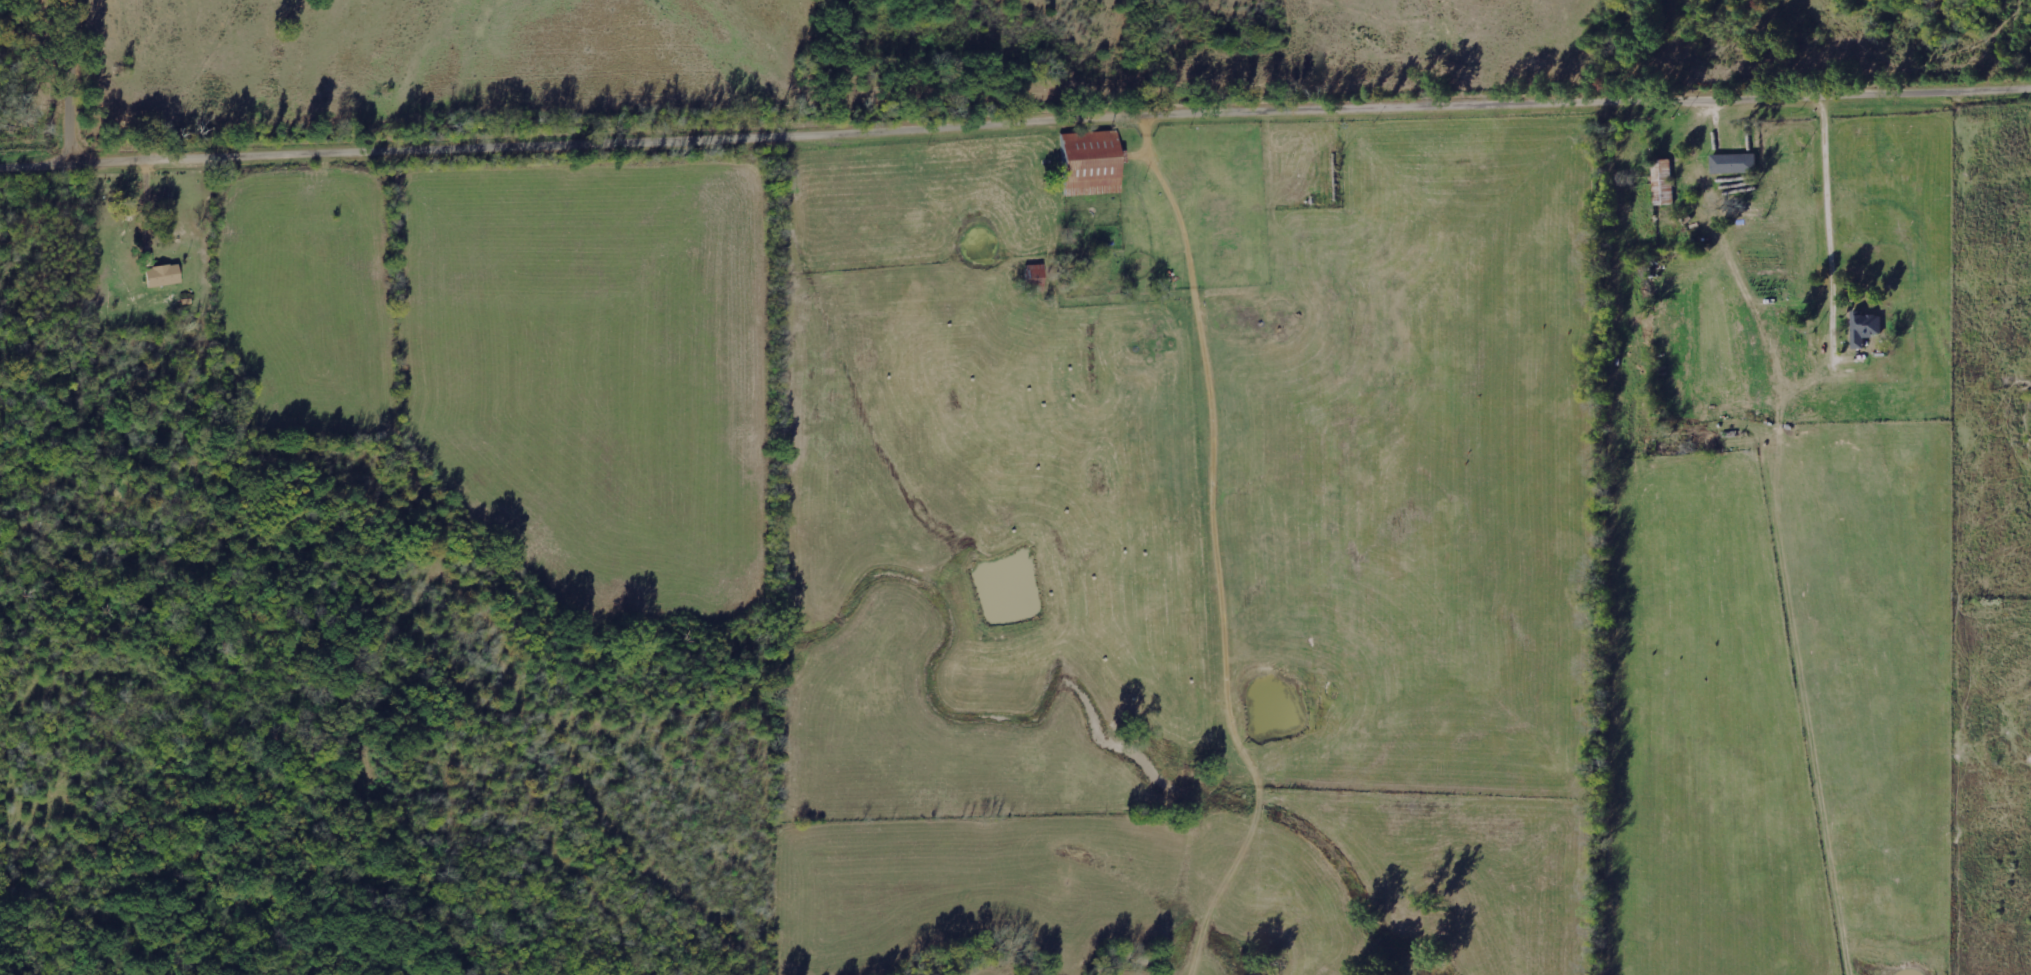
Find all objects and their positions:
road: (79, 83)
road: (1015, 126)
building: (1095, 162)
building: (1736, 163)
building: (1665, 182)
building: (165, 275)
building: (1038, 277)
building: (1868, 327)

